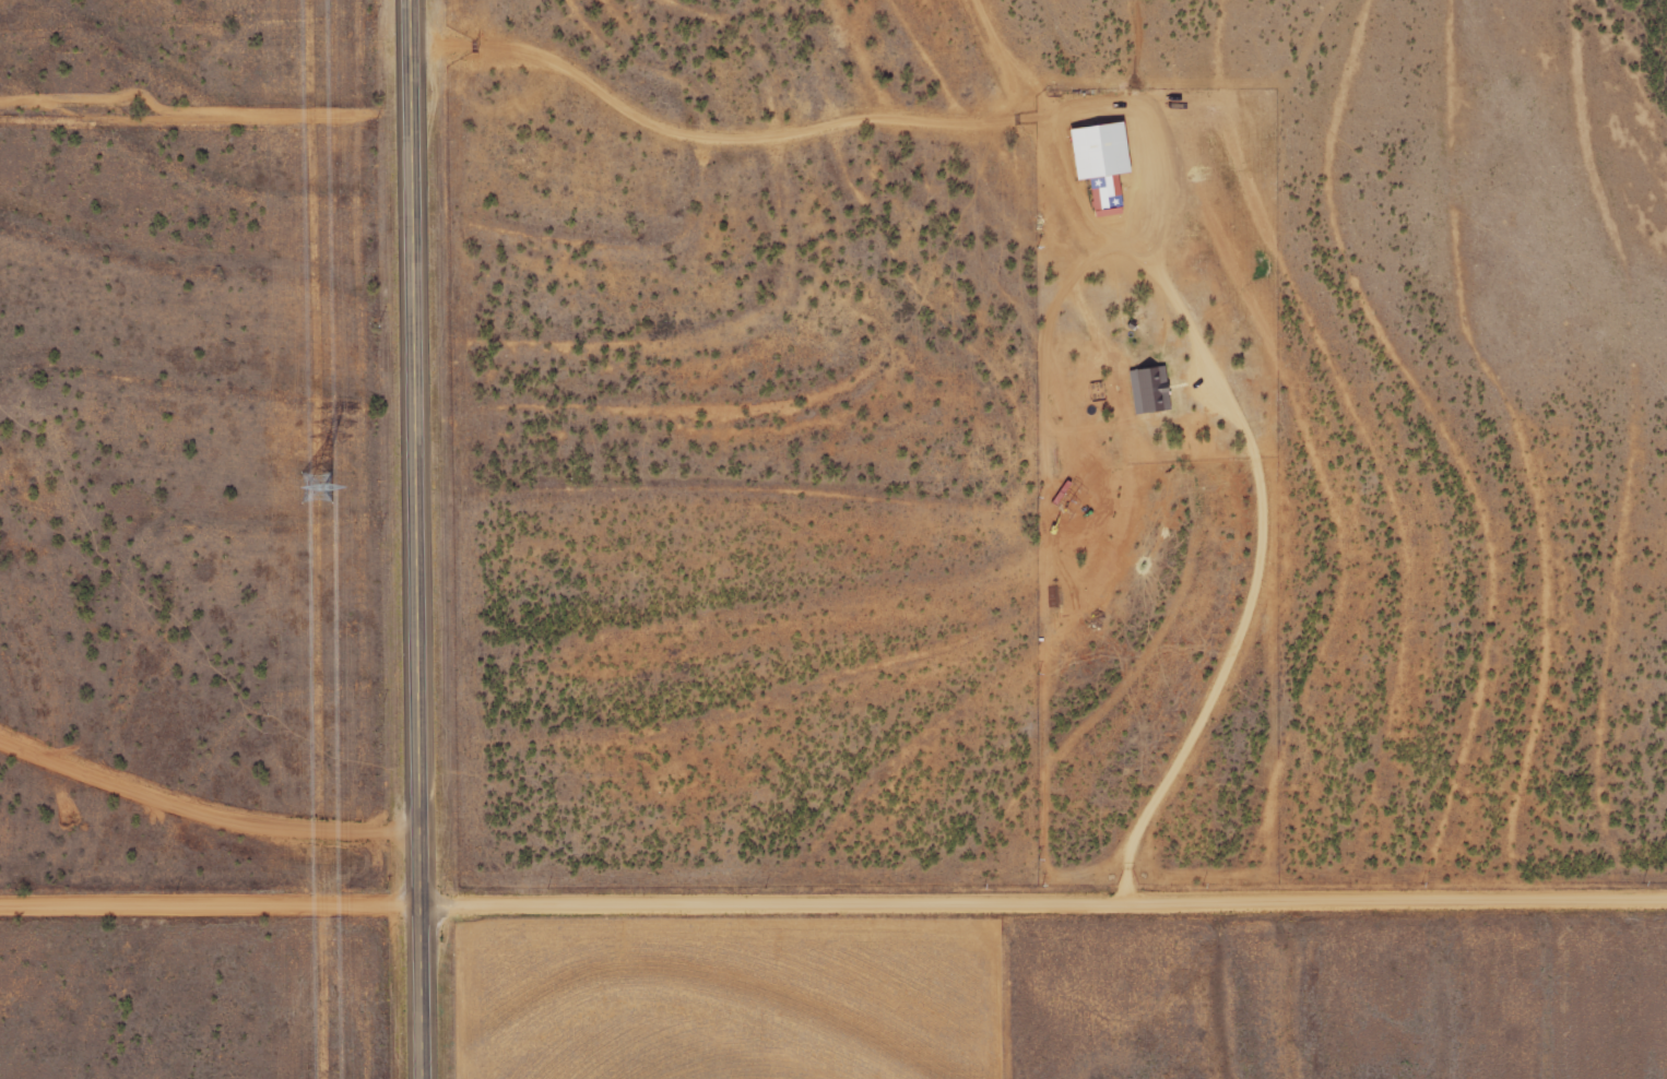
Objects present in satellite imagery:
power tower: (314, 485)
road: (421, 539)
road: (1045, 899)
road: (212, 901)

